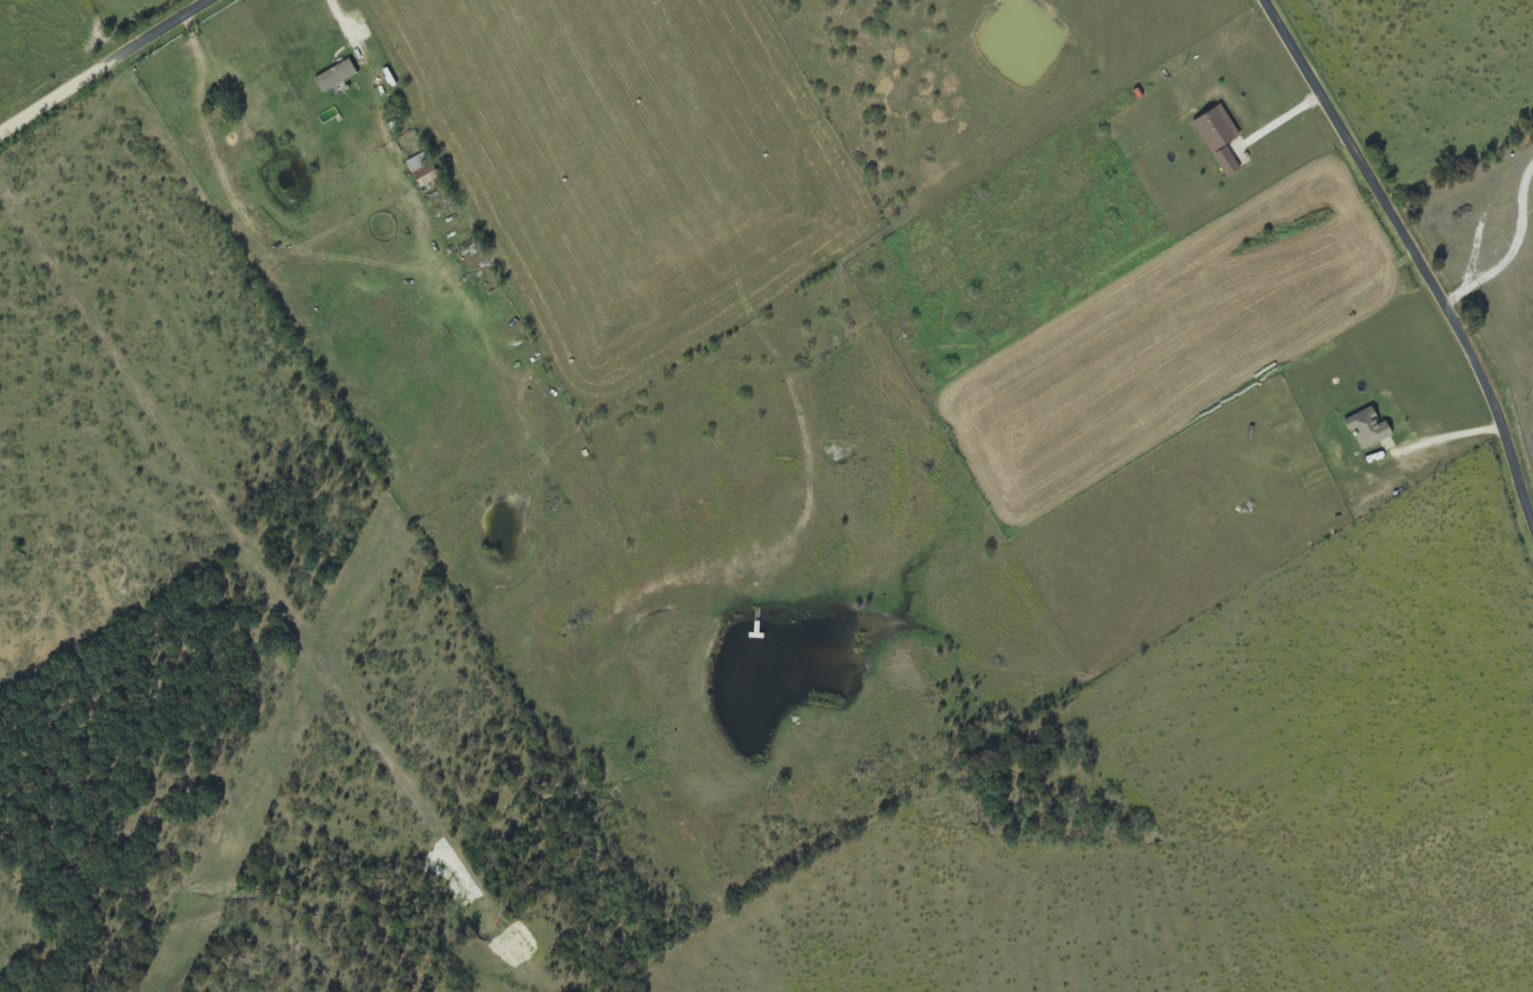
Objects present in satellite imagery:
road: (106, 67)
building: (335, 76)
building: (1218, 138)
building: (422, 170)
road: (1418, 263)
building: (475, 265)
building: (1367, 429)

